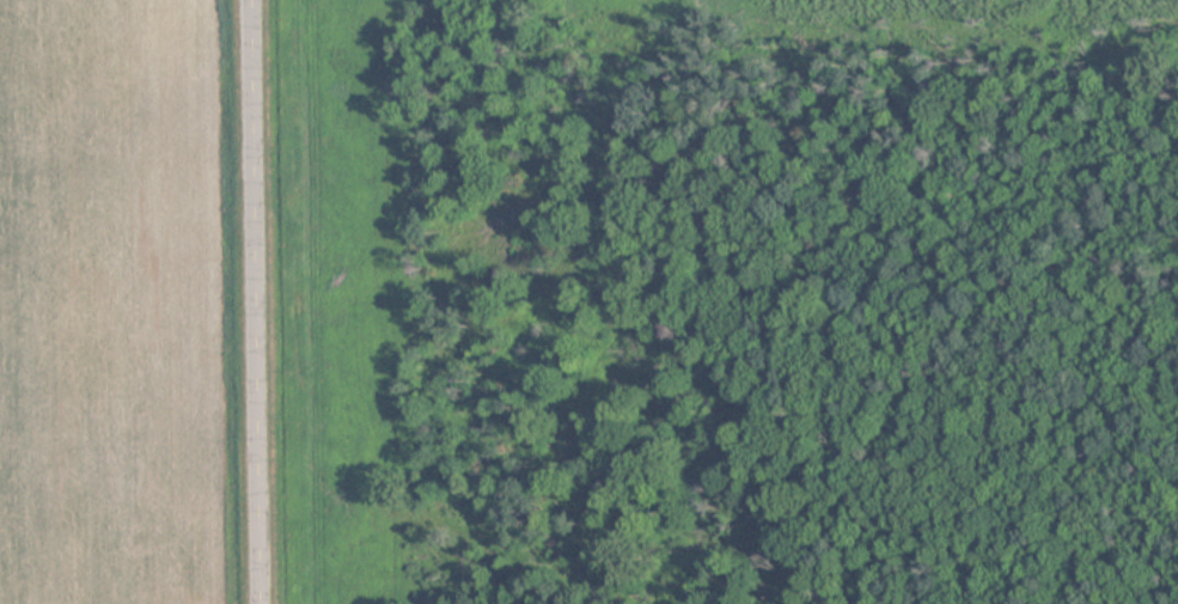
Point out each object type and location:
road: (268, 301)

